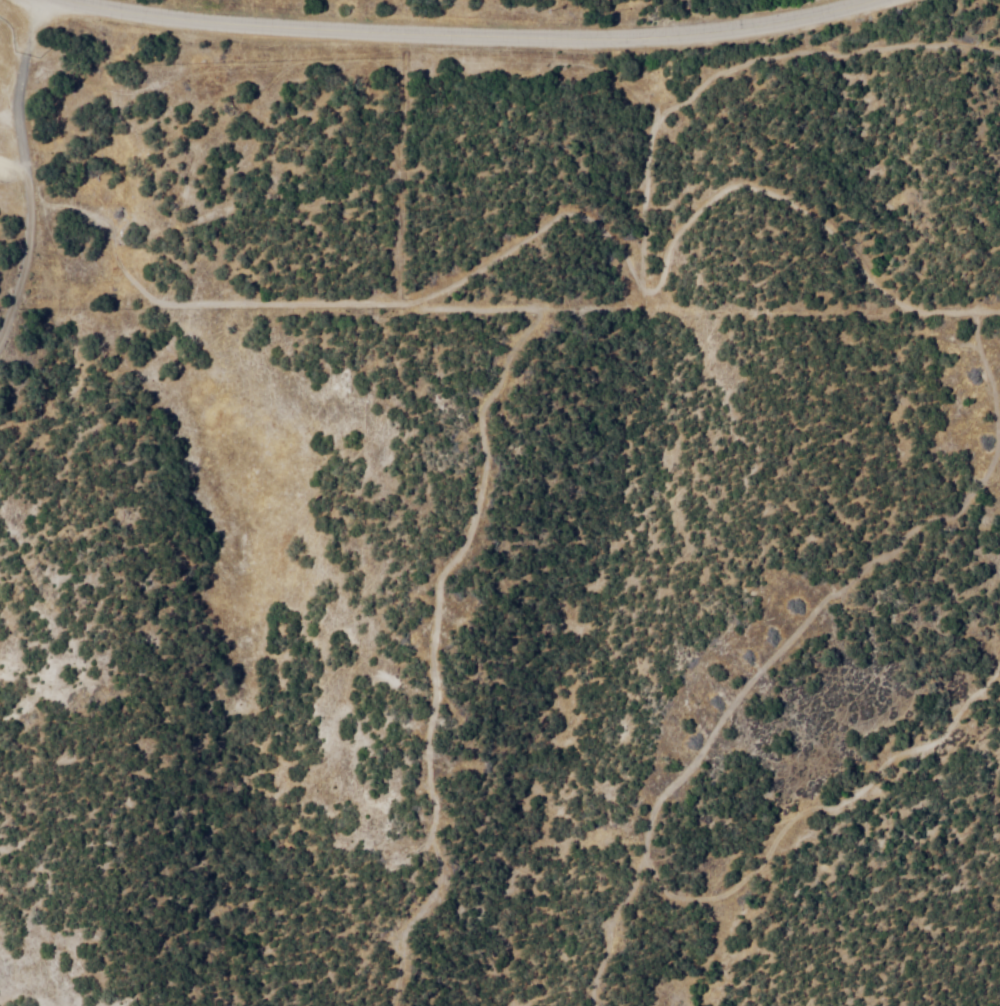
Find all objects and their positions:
road: (473, 33)
road: (26, 169)

